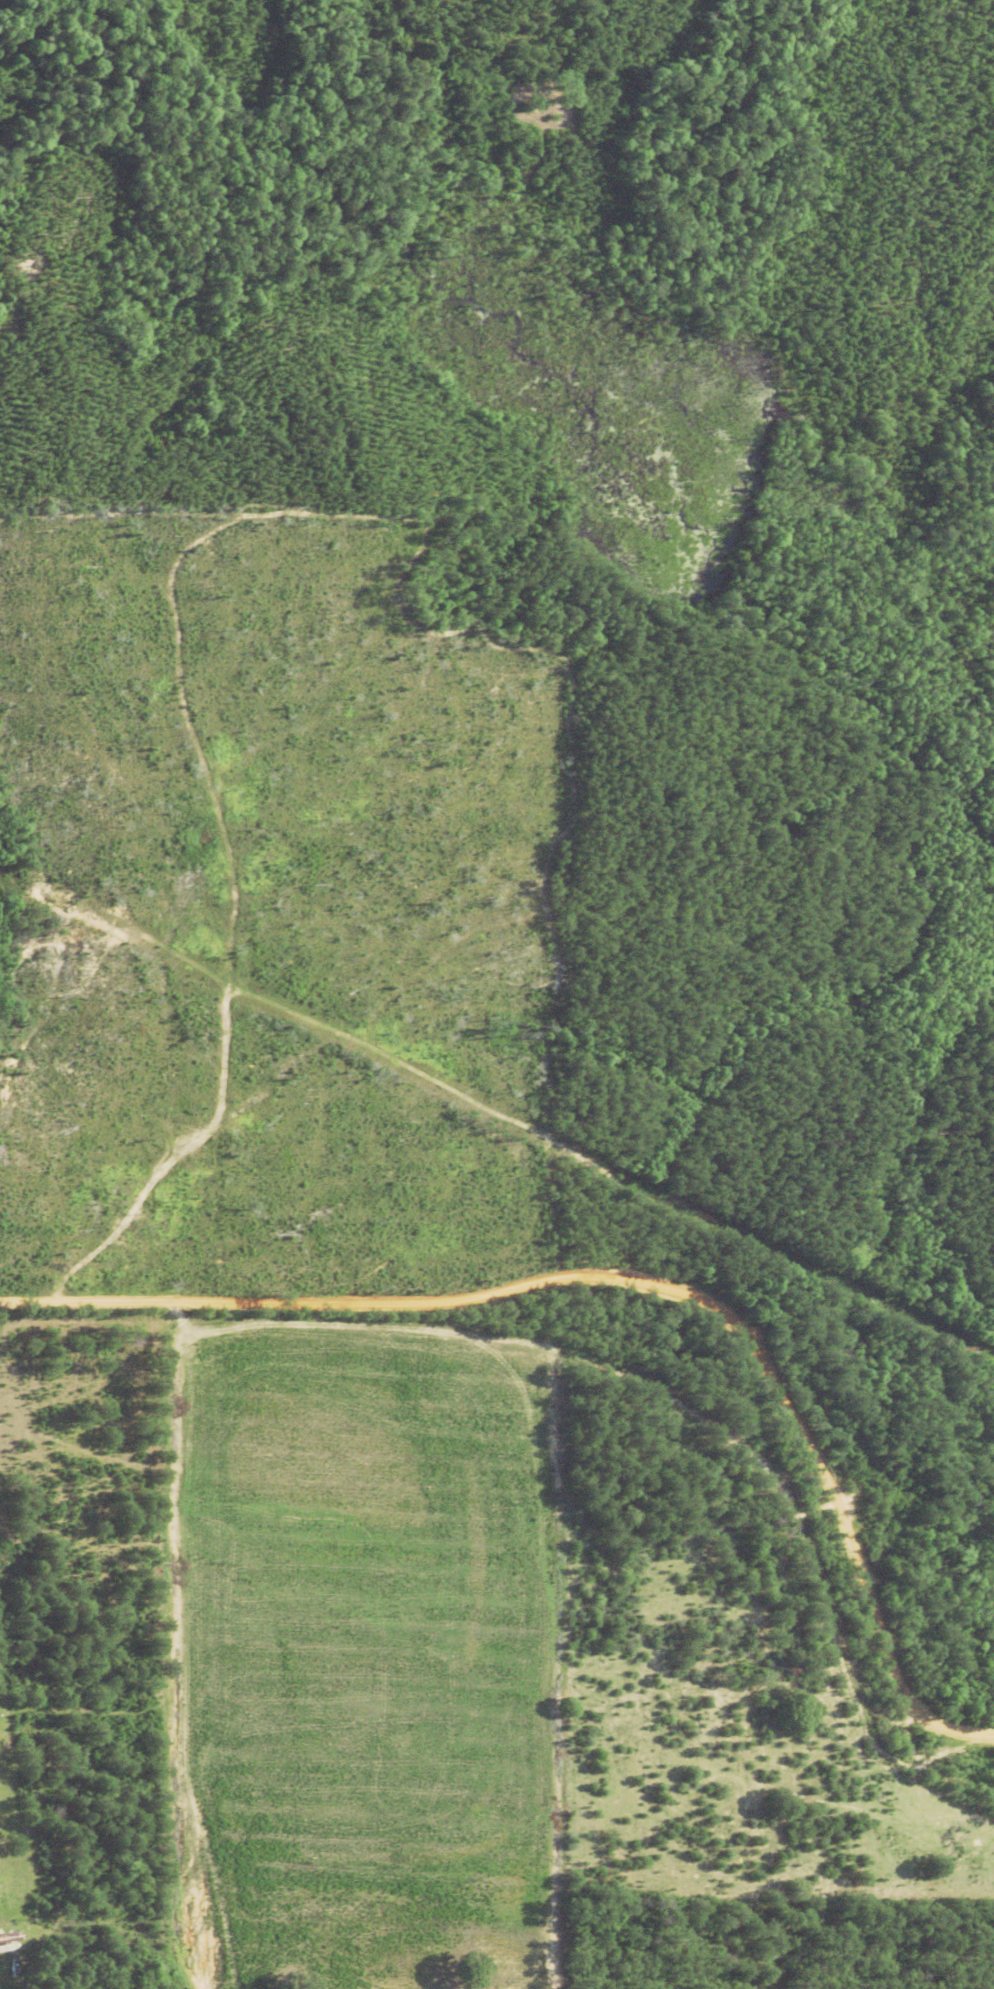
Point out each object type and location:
road: (631, 1282)
building: (10, 1944)

